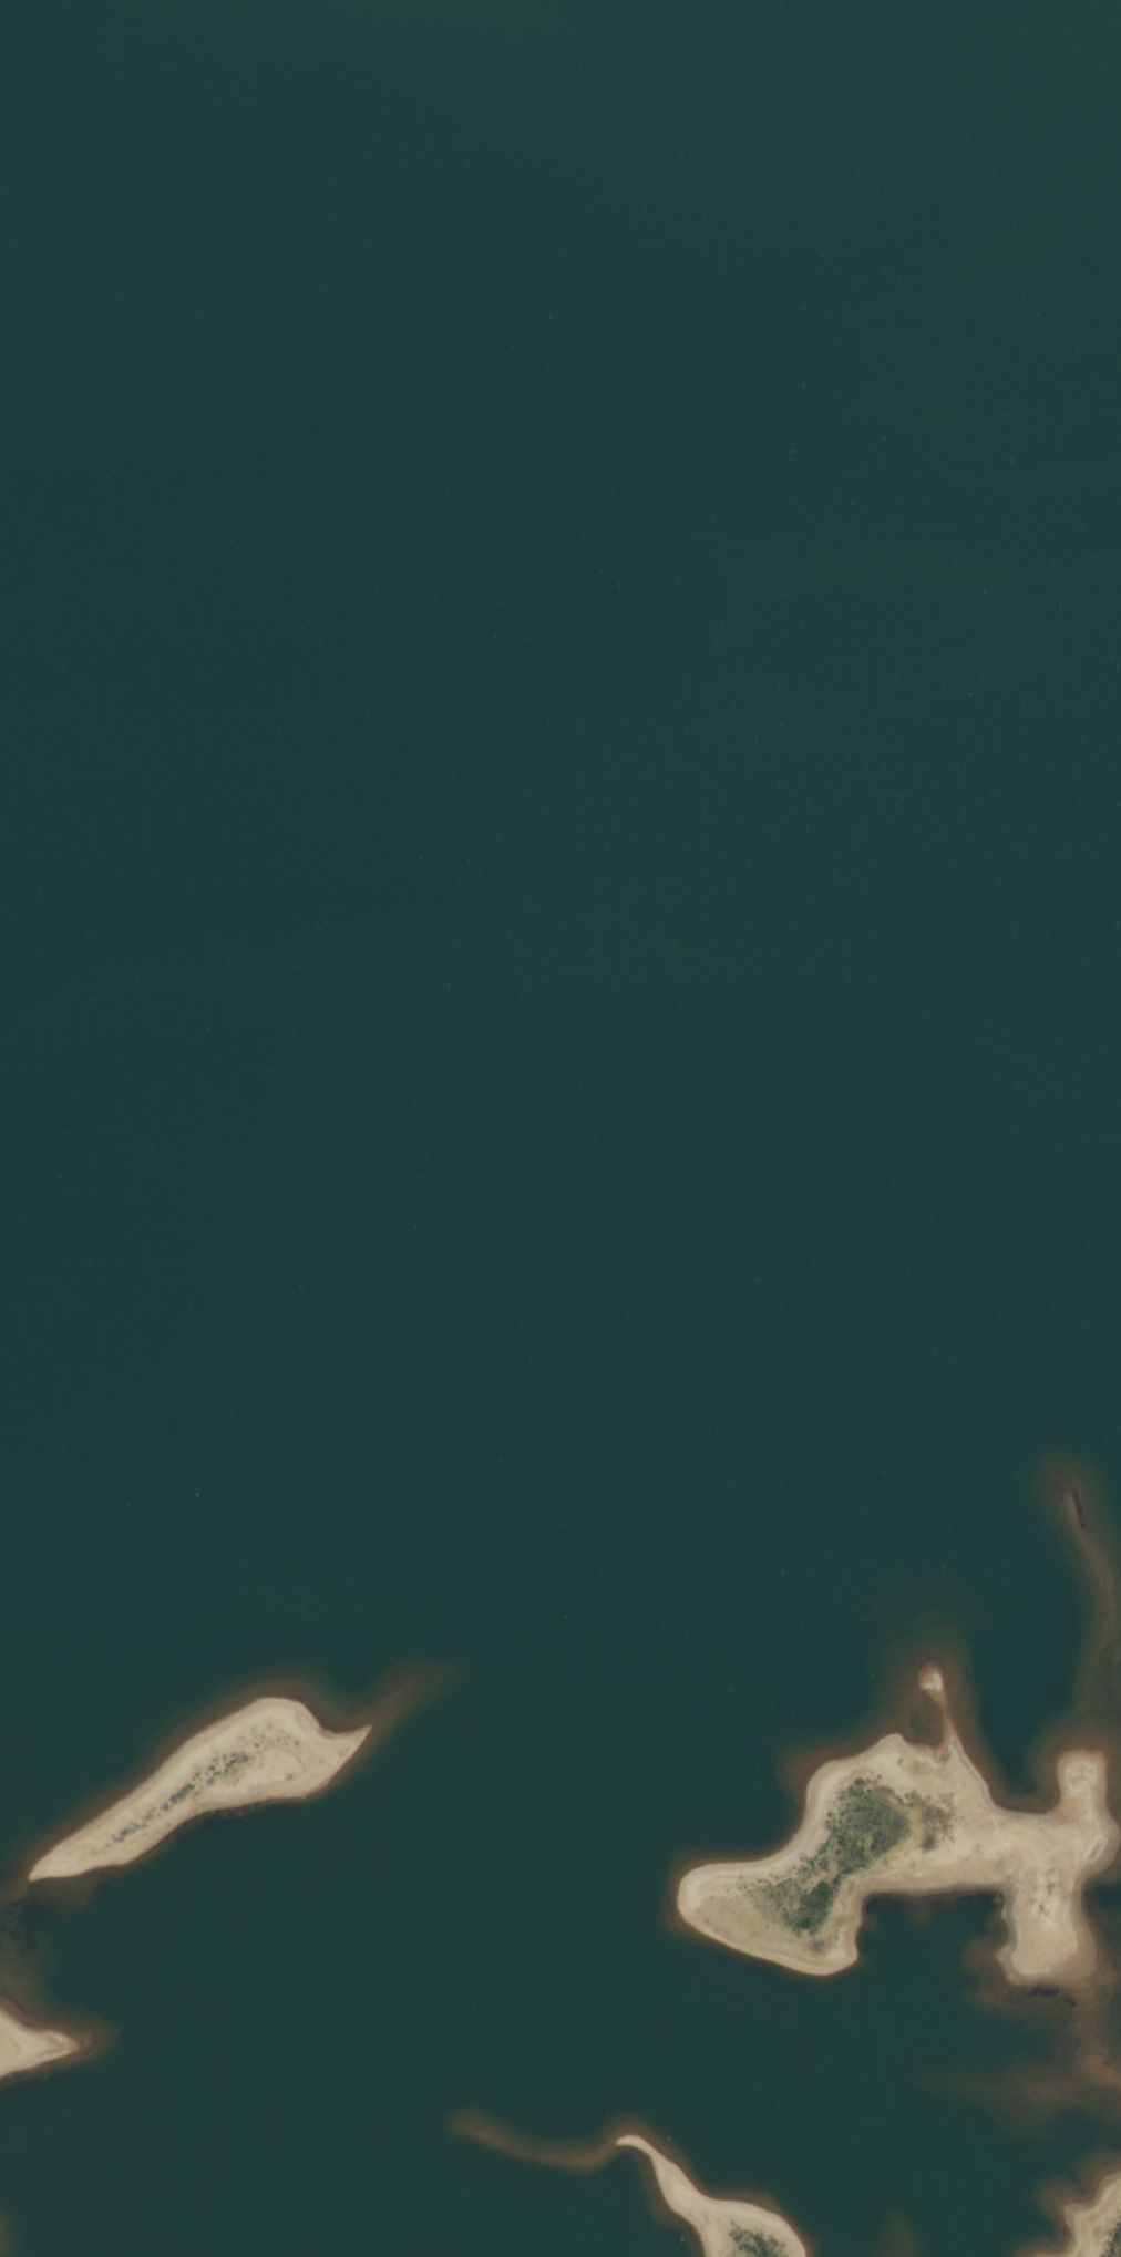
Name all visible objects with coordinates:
river: (560, 556)

